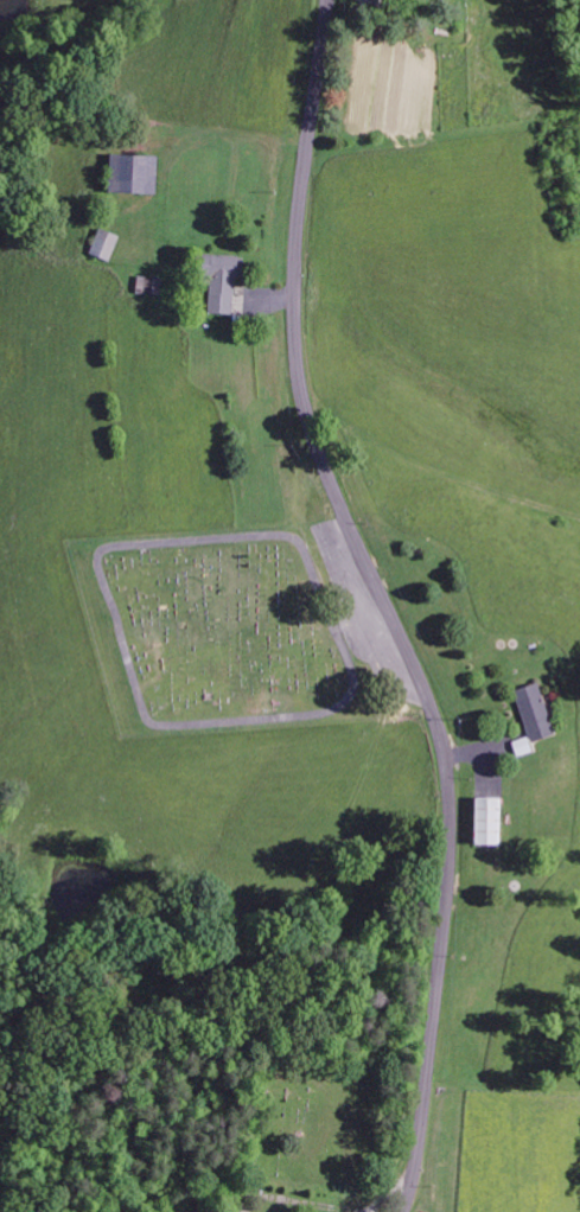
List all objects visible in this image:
building: (130, 173)
building: (103, 244)
building: (217, 281)
building: (147, 285)
road: (384, 604)
park: (217, 632)
building: (531, 712)
building: (484, 821)
park: (317, 1128)

